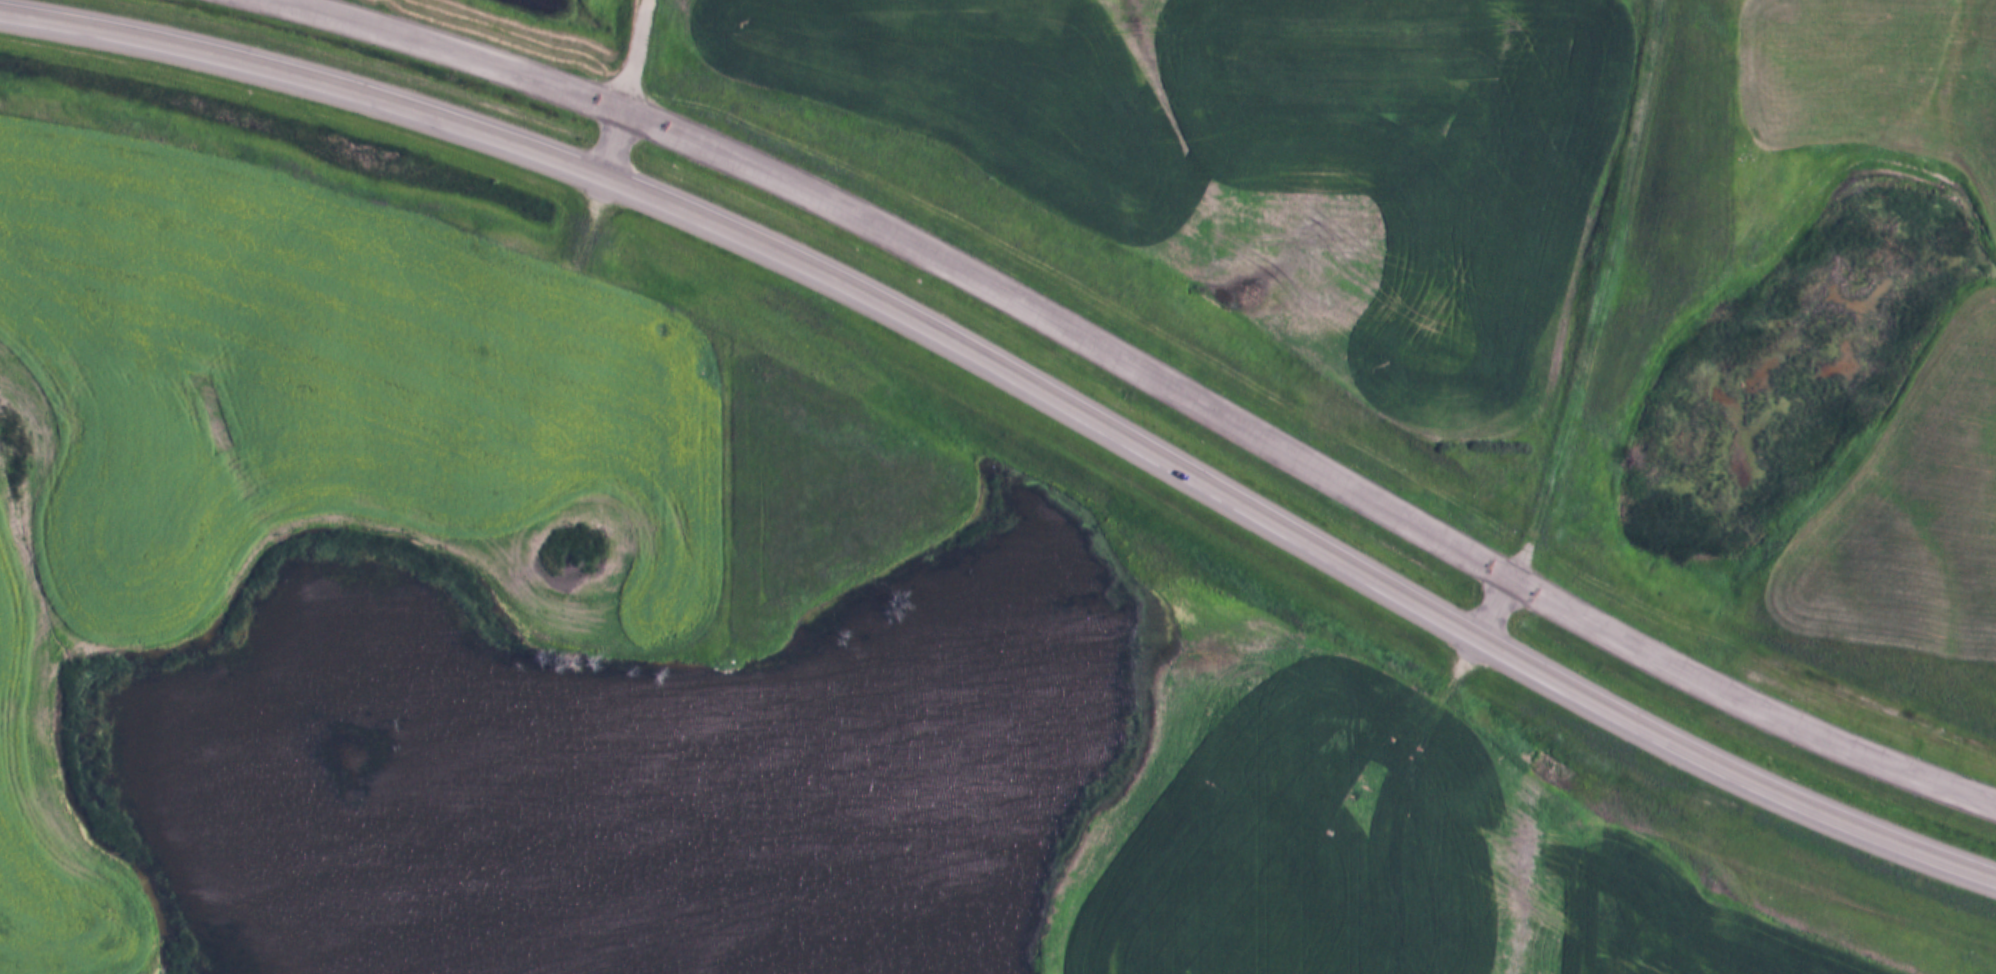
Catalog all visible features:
road: (628, 89)
crop: (1268, 157)
road: (1598, 298)
road: (1139, 374)
road: (1025, 379)
road: (1500, 615)

